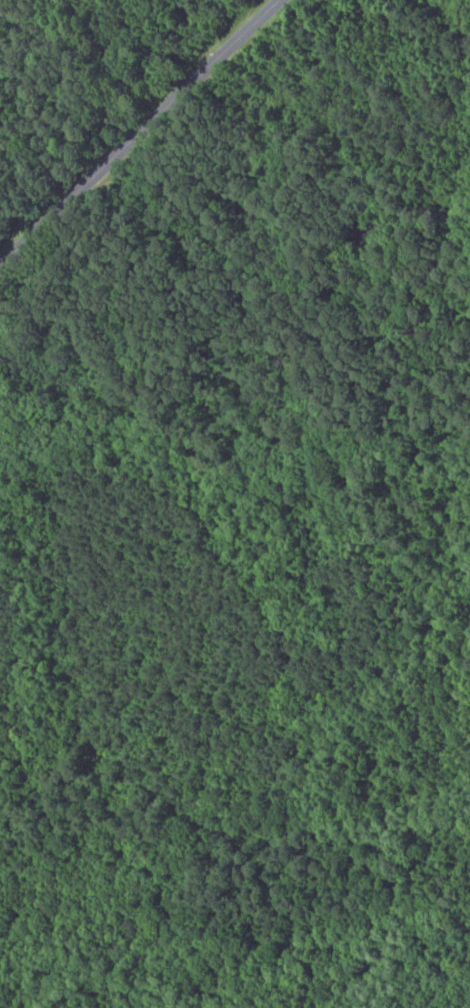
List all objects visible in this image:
road: (142, 136)

